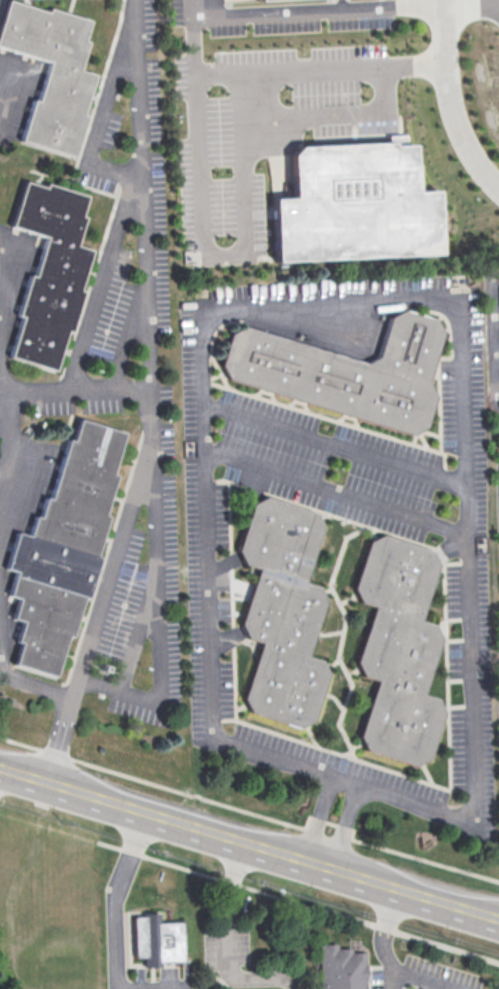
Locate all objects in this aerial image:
road: (471, 4)
road: (191, 9)
building: (49, 74)
road: (215, 76)
road: (449, 104)
road: (333, 114)
road: (133, 187)
building: (352, 204)
road: (203, 225)
building: (47, 272)
road: (128, 337)
building: (345, 371)
road: (11, 396)
road: (149, 399)
road: (2, 419)
road: (334, 442)
road: (2, 468)
road: (335, 491)
building: (62, 547)
building: (282, 611)
road: (157, 612)
road: (138, 633)
building: (397, 648)
road: (16, 680)
road: (473, 782)
road: (257, 815)
road: (315, 817)
road: (345, 826)
road: (249, 843)
road: (297, 903)
road: (115, 927)
road: (386, 935)
building: (156, 939)
road: (227, 942)
building: (341, 968)
road: (421, 979)

